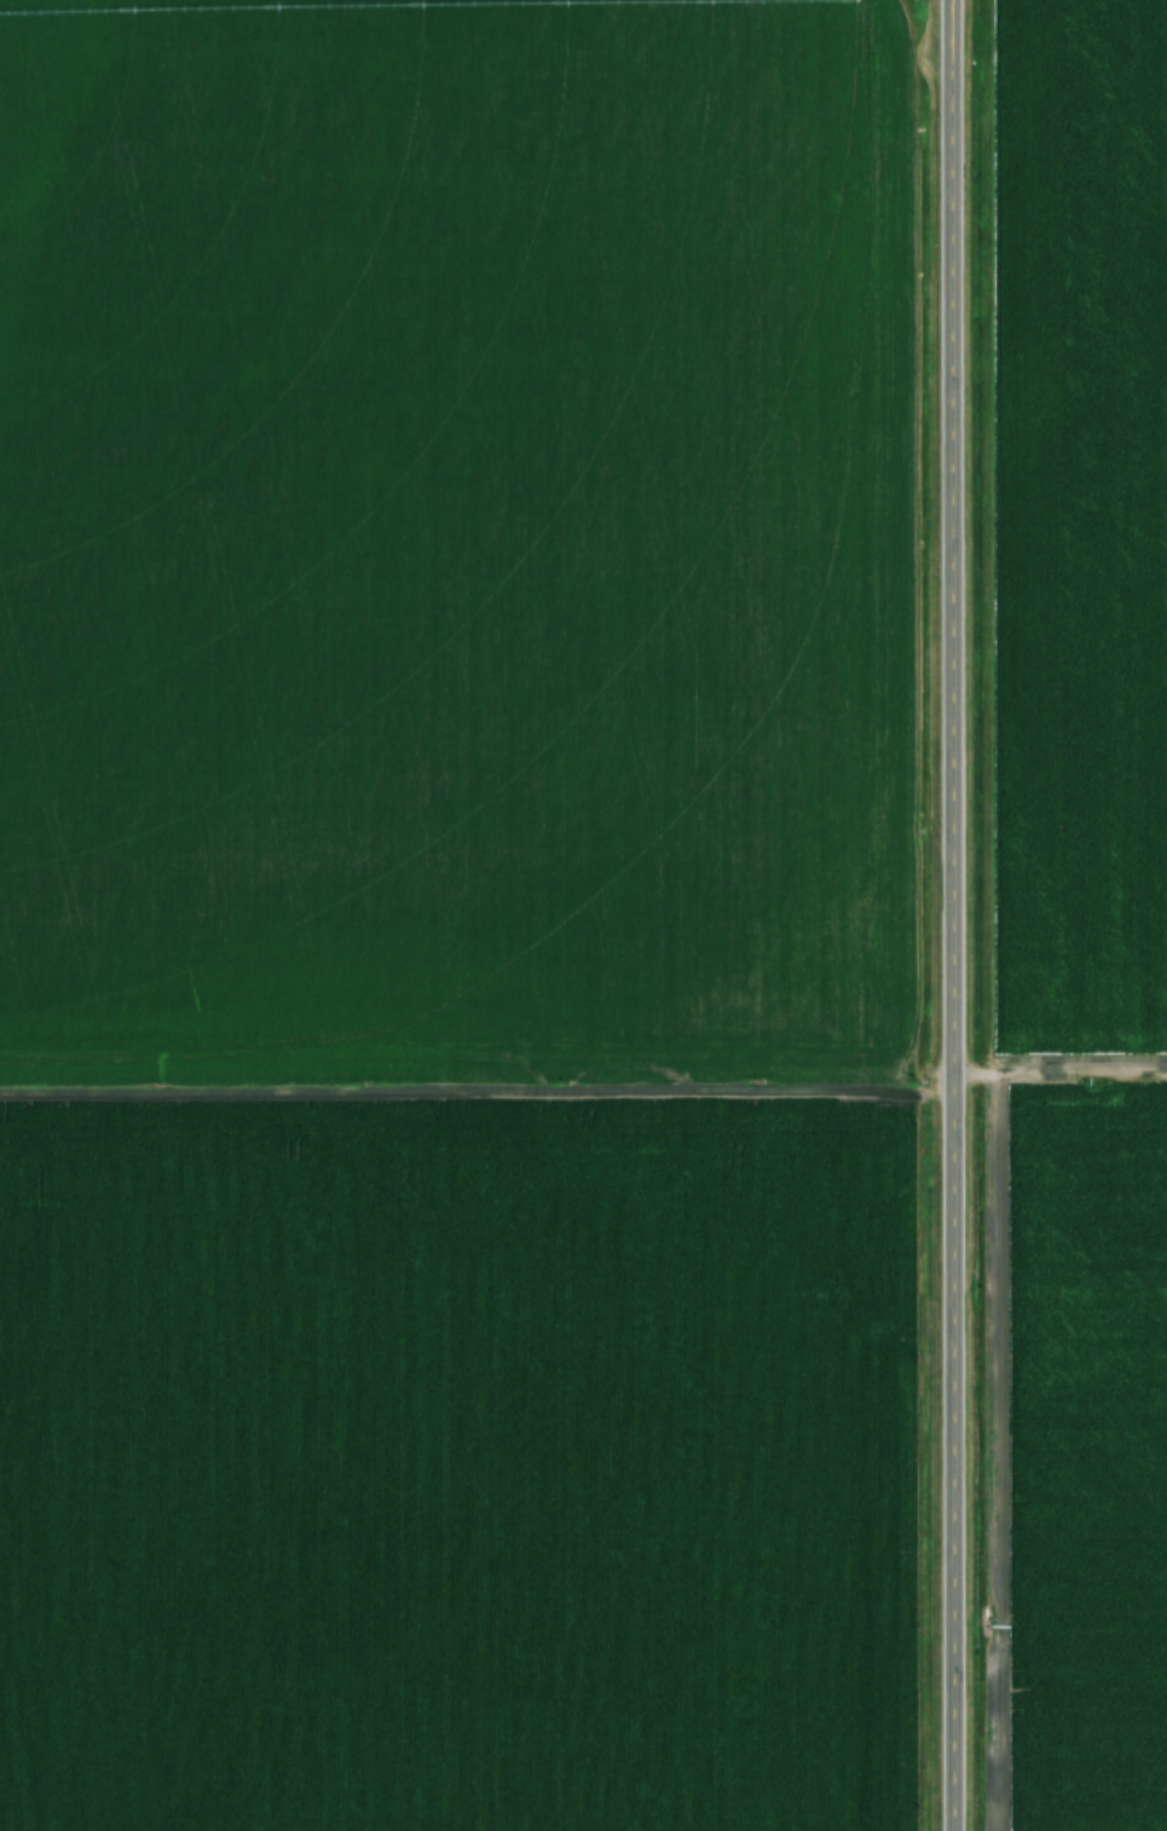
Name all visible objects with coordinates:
crop: (1080, 525)
crop: (456, 538)
road: (954, 915)
crop: (1082, 1460)
crop: (458, 1465)

